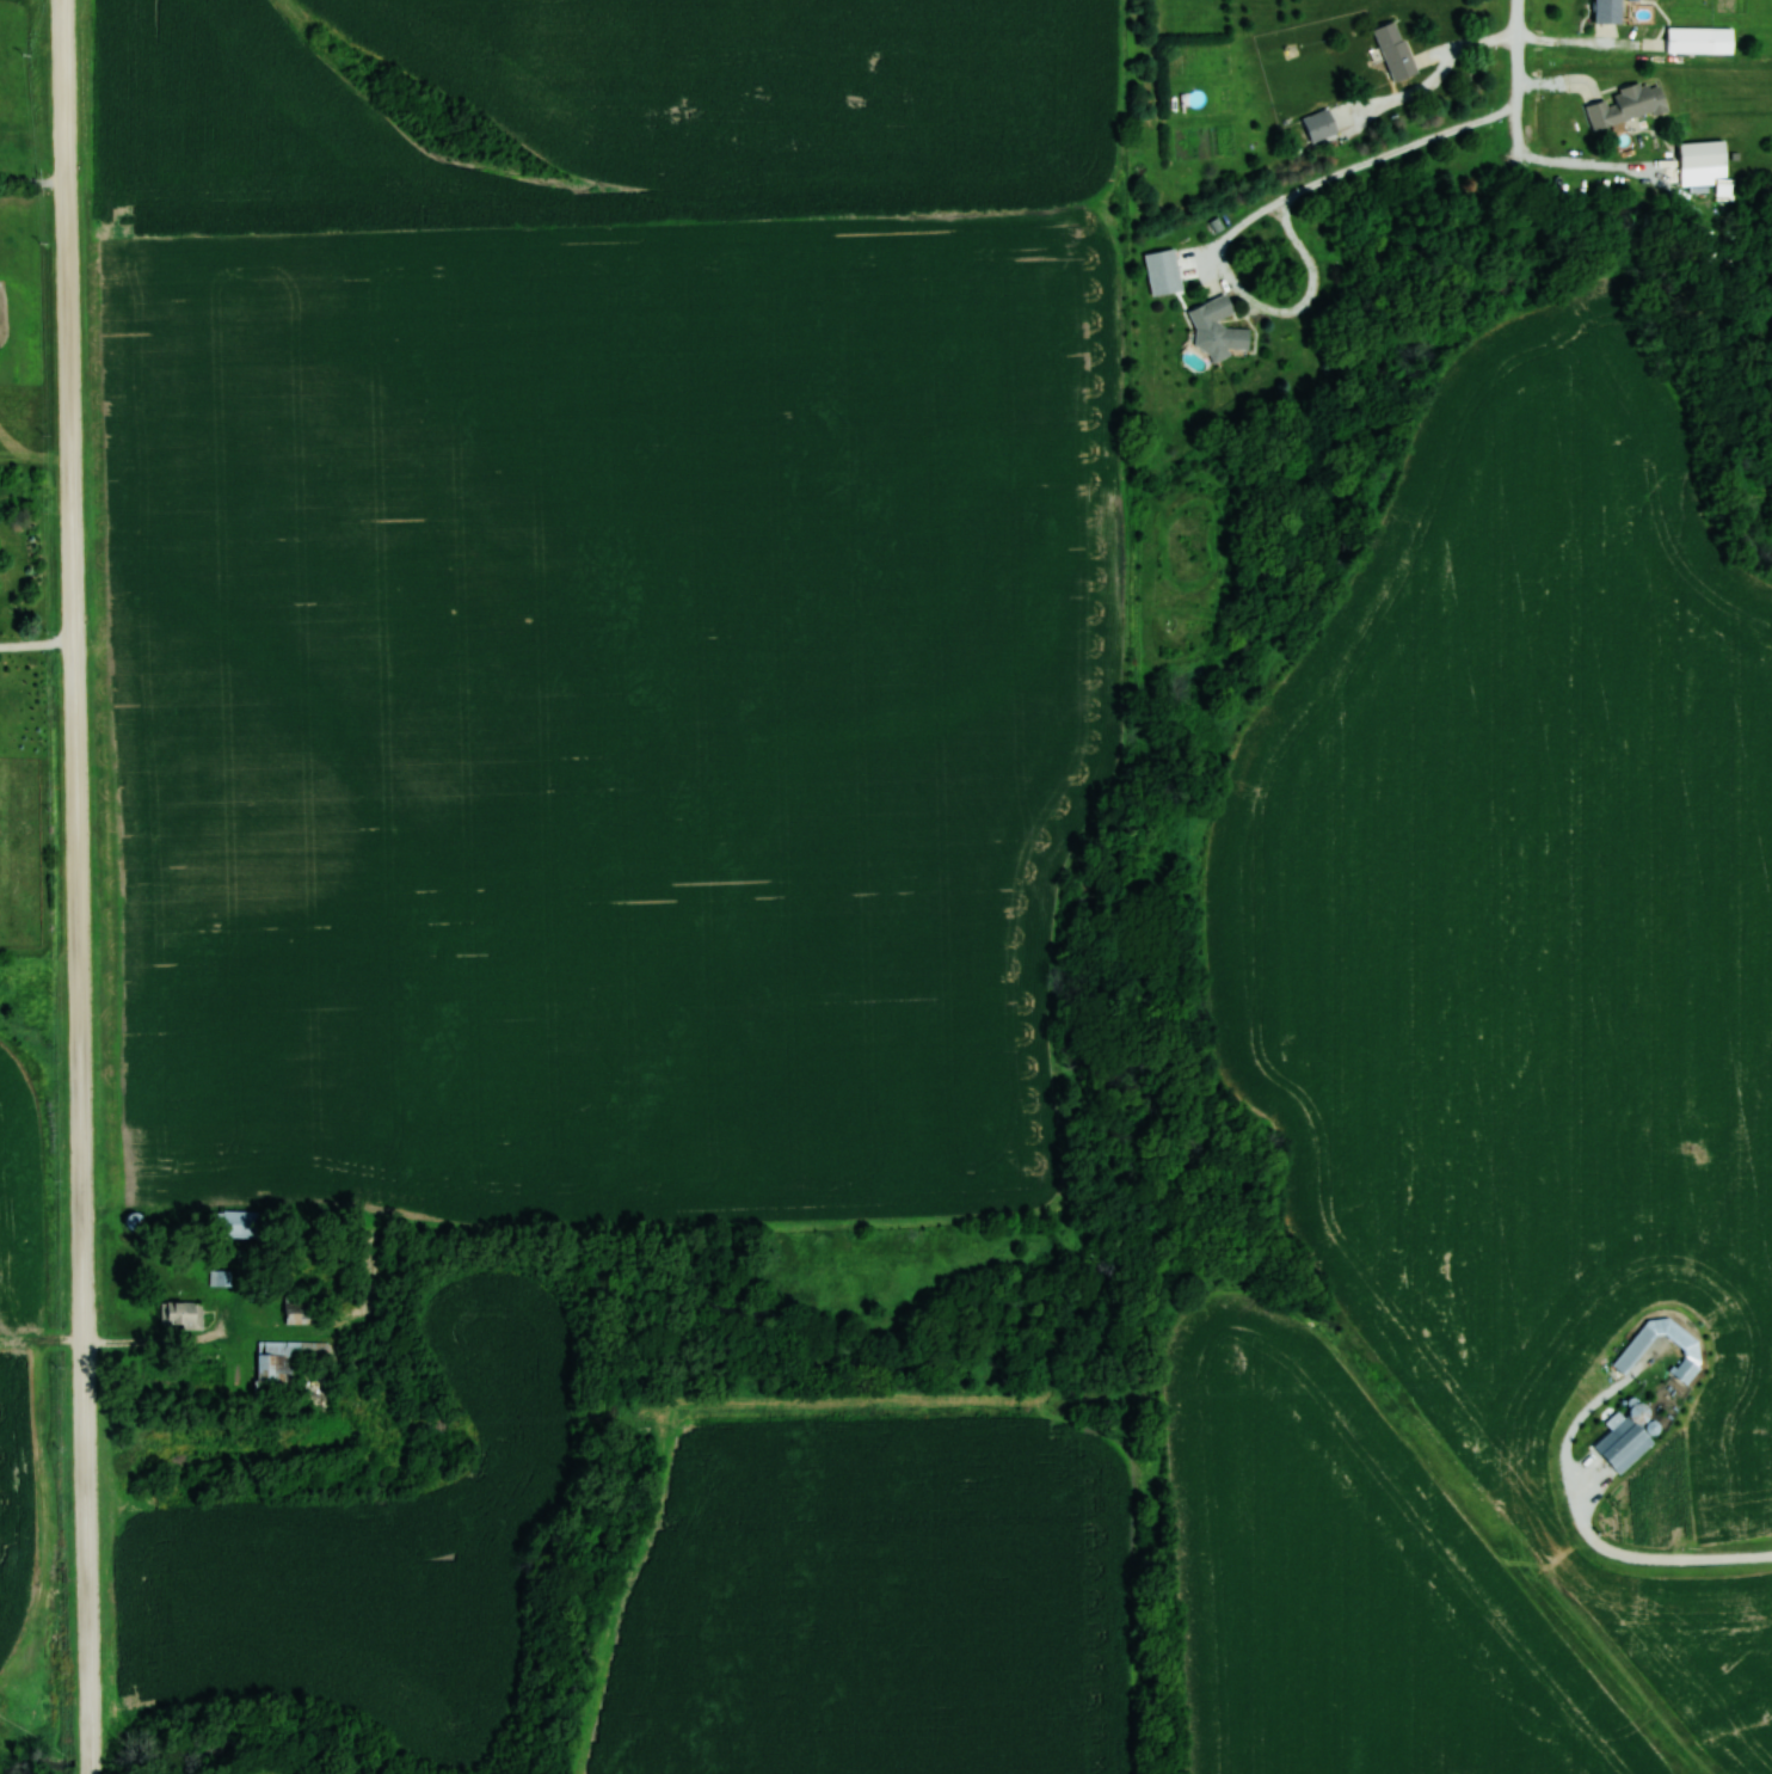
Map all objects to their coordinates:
building: (1606, 11)
building: (1688, 39)
building: (1393, 50)
road: (1515, 54)
building: (1624, 105)
building: (1318, 124)
building: (1700, 154)
road: (32, 182)
road: (1259, 215)
building: (1216, 329)
road: (76, 886)
building: (238, 1223)
building: (220, 1277)
building: (299, 1307)
building: (181, 1314)
building: (284, 1364)
building: (1637, 1413)

